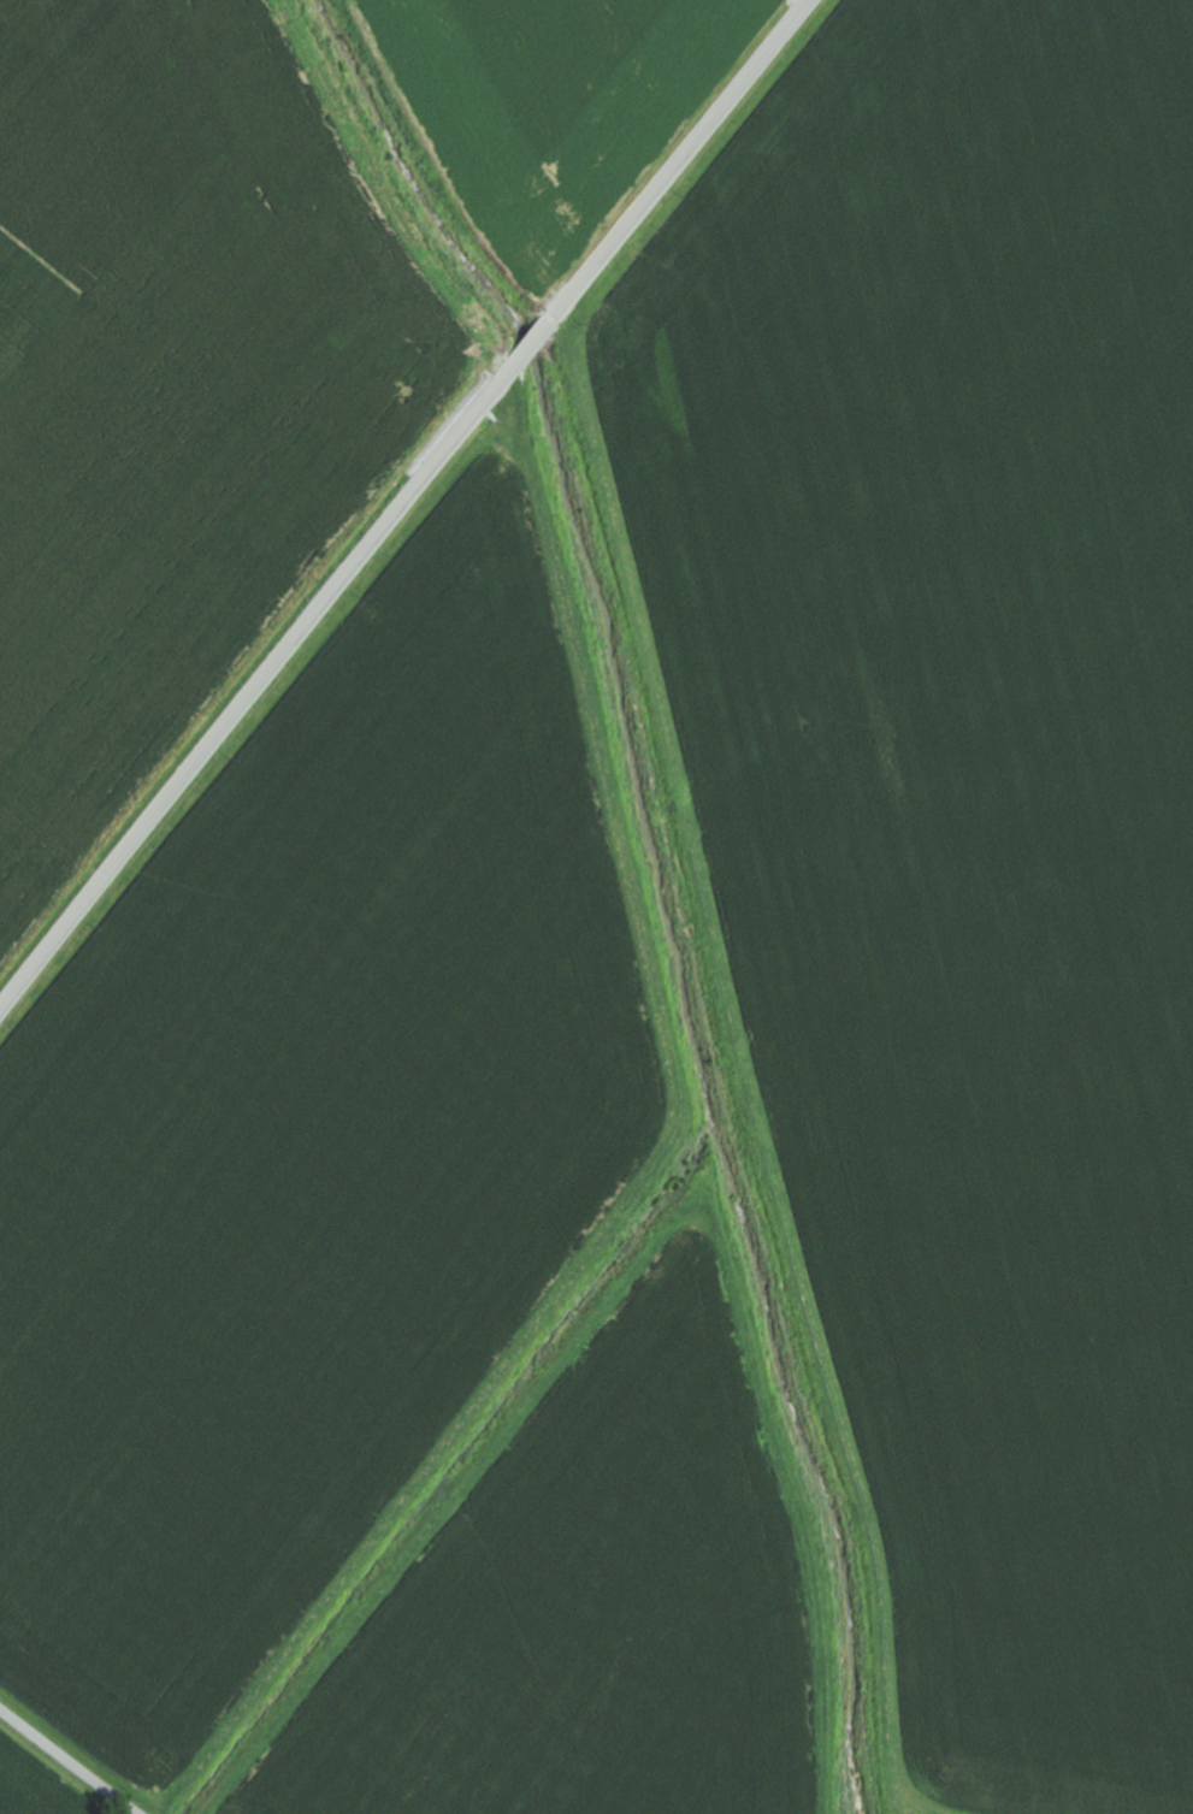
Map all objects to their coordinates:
road: (402, 503)
road: (67, 1762)

